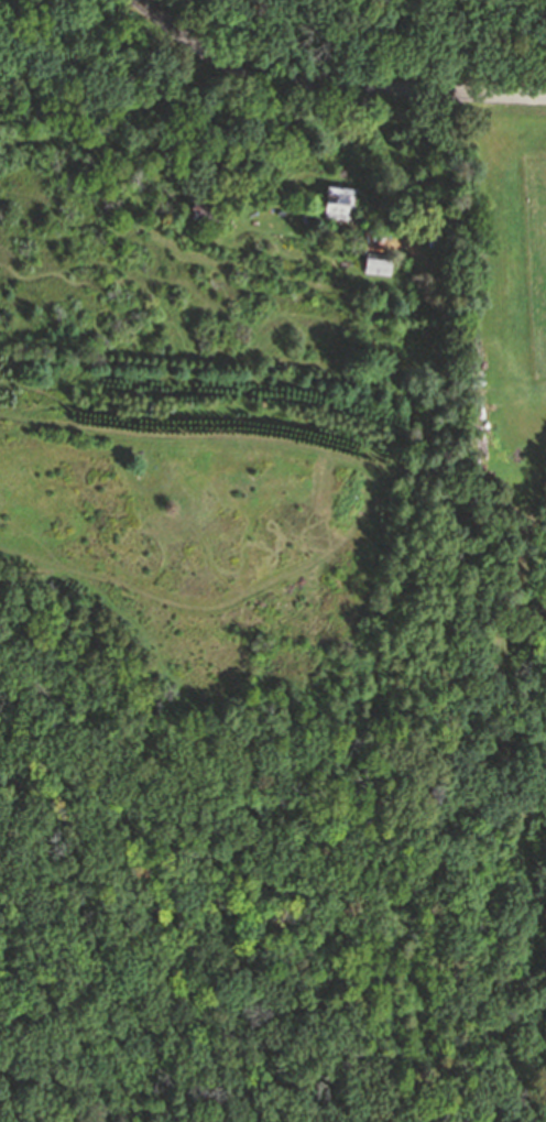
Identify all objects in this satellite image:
road: (329, 84)
building: (341, 203)
building: (210, 210)
building: (437, 240)
building: (379, 265)

